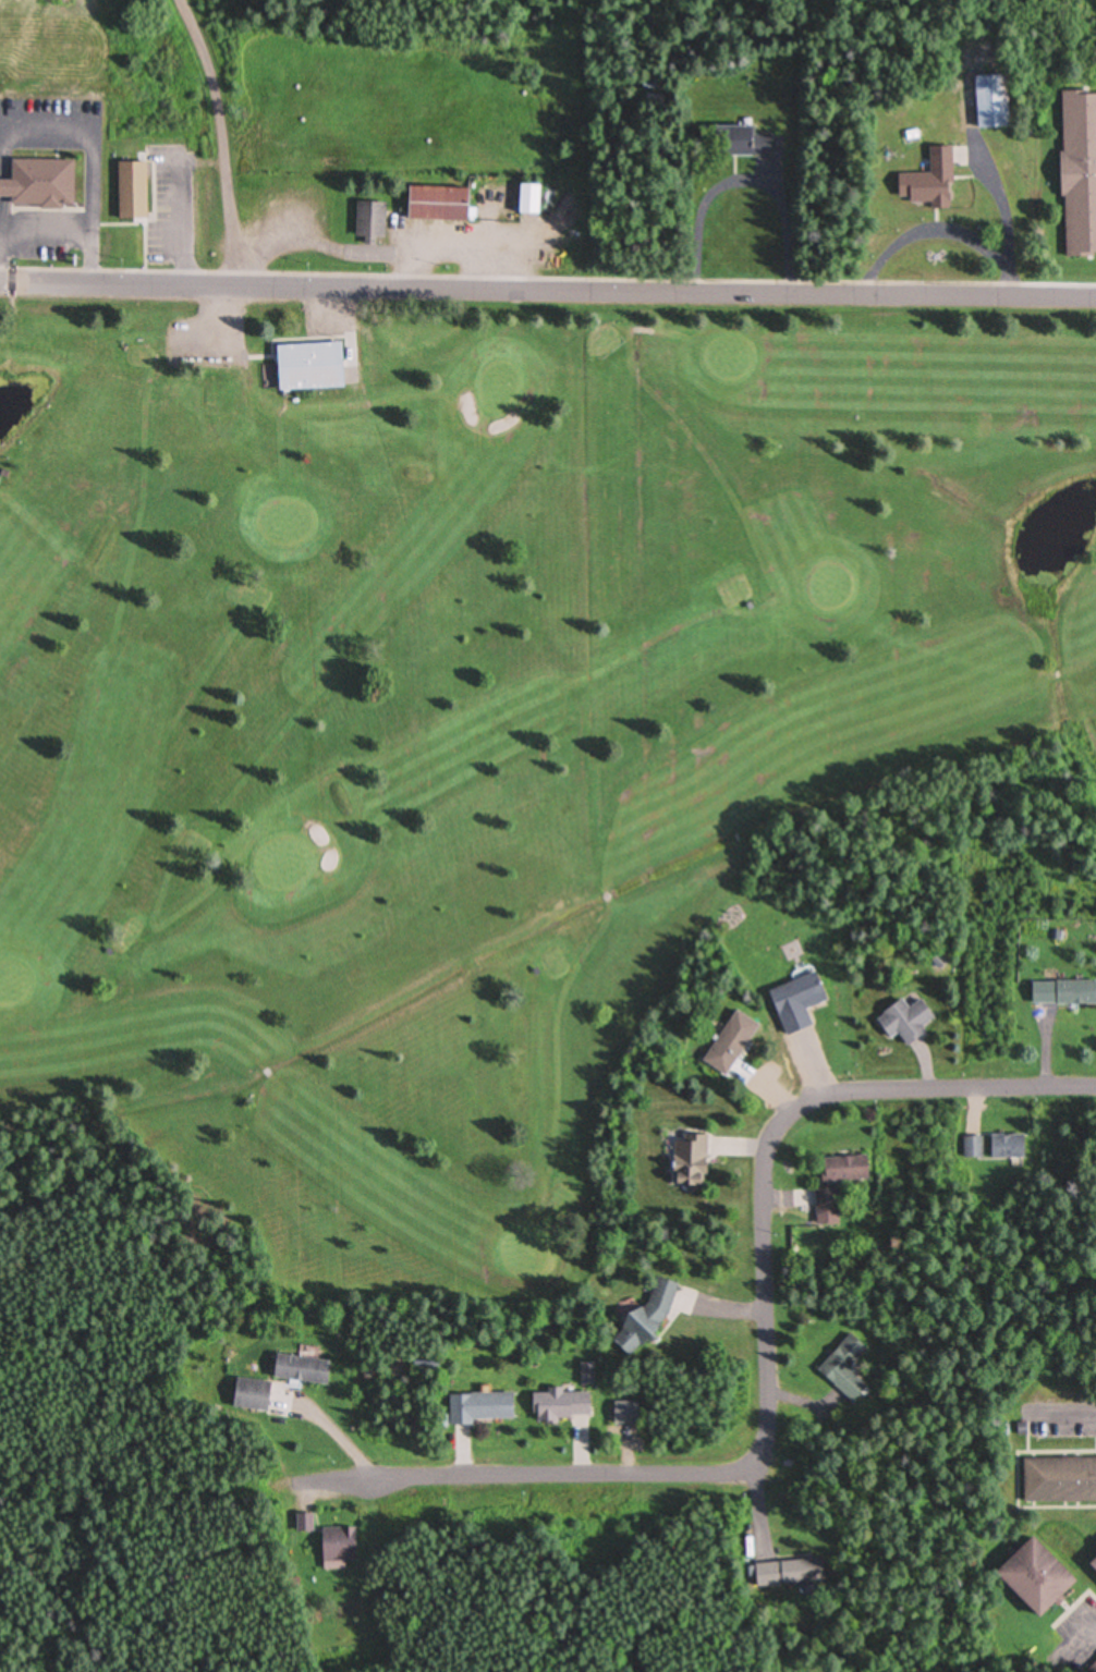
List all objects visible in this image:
park: (149, 63)
building: (988, 103)
building: (738, 144)
building: (1077, 174)
building: (928, 182)
building: (38, 185)
building: (131, 191)
building: (527, 199)
building: (436, 205)
building: (368, 221)
road: (547, 291)
road: (330, 304)
parking lot: (329, 319)
road: (224, 331)
parking lot: (209, 337)
park: (728, 361)
building: (307, 366)
park: (498, 388)
park: (284, 524)
park: (830, 589)
park: (459, 734)
park: (283, 868)
park: (14, 985)
building: (1062, 993)
building: (903, 1021)
building: (728, 1044)
building: (1006, 1146)
building: (972, 1147)
building: (687, 1160)
building: (844, 1170)
building: (826, 1208)
park: (526, 1257)
road: (767, 1351)
building: (844, 1367)
building: (300, 1371)
building: (251, 1396)
building: (559, 1407)
building: (478, 1408)
building: (1059, 1480)
building: (304, 1525)
park: (279, 1540)
building: (337, 1545)
building: (1092, 1565)
building: (800, 1573)
building: (762, 1574)
building: (1032, 1578)
park: (1059, 1671)

